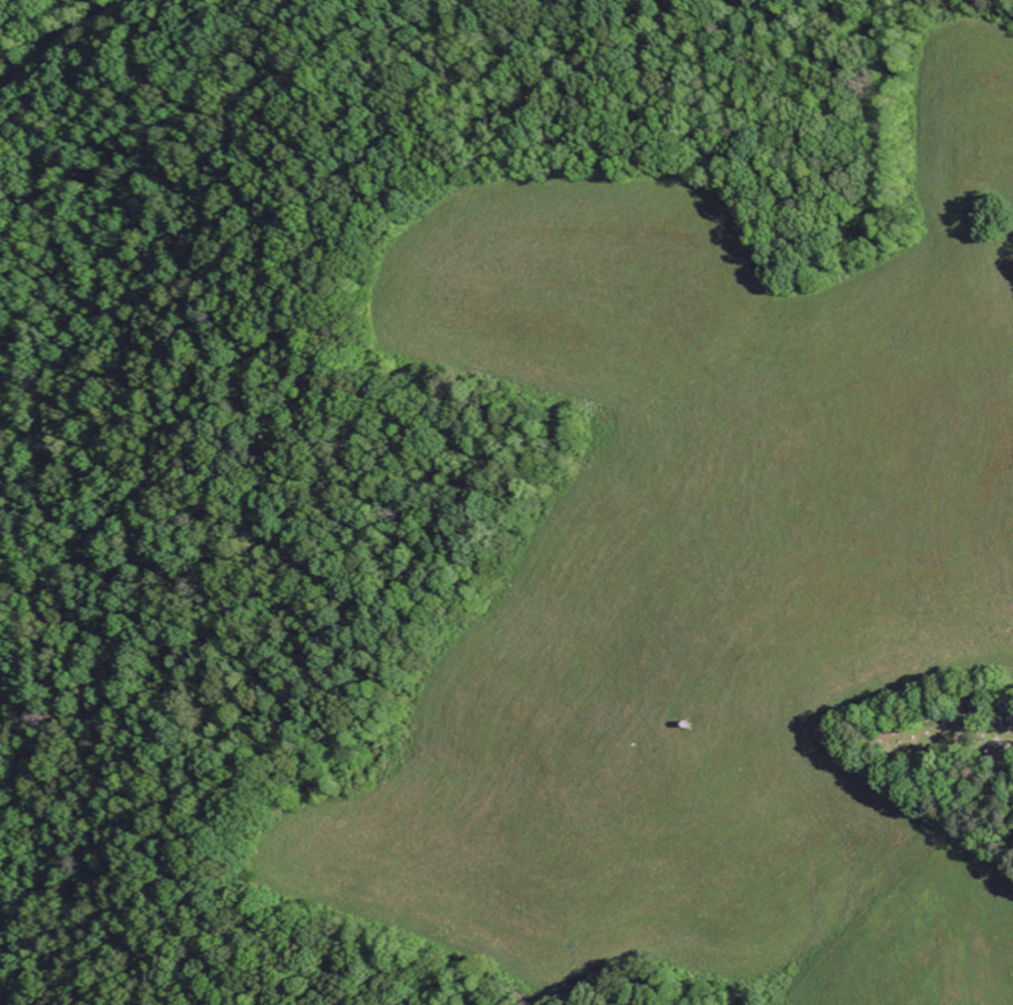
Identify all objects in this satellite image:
road: (68, 40)

